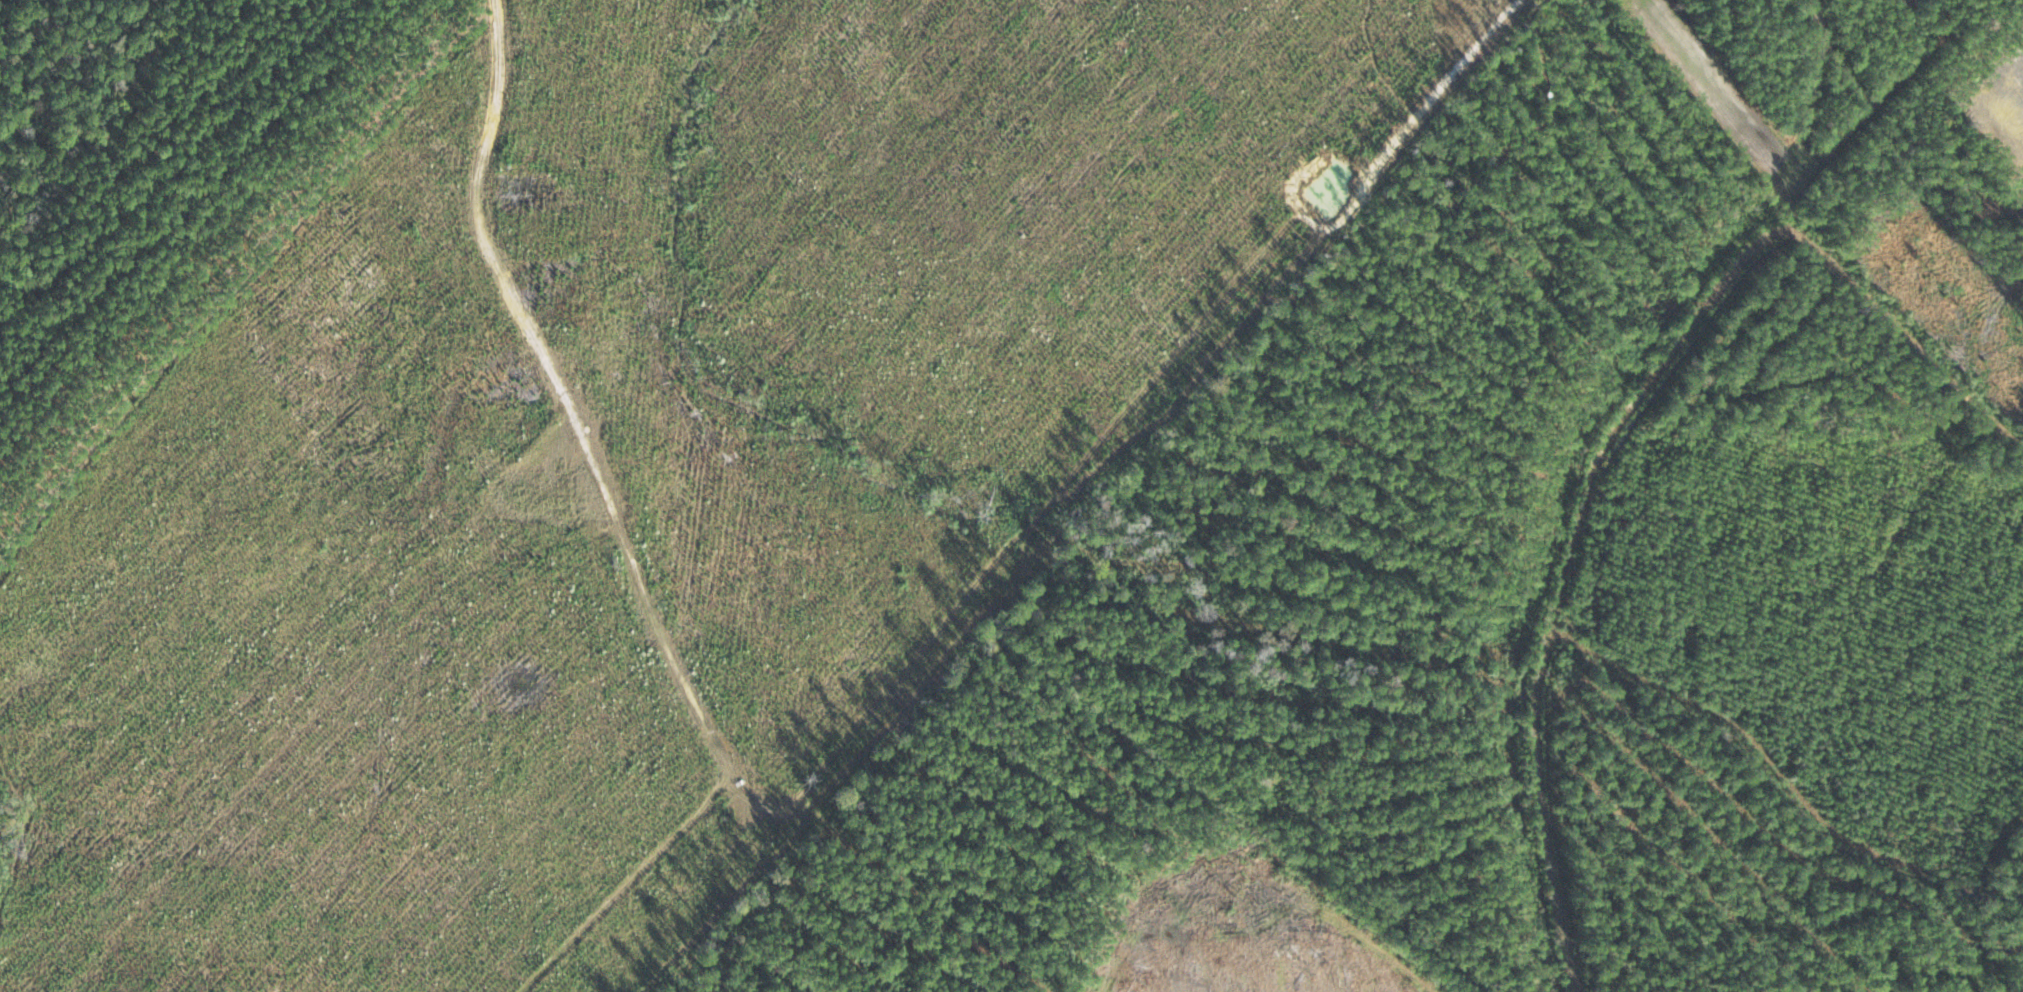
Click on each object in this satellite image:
road: (580, 374)

